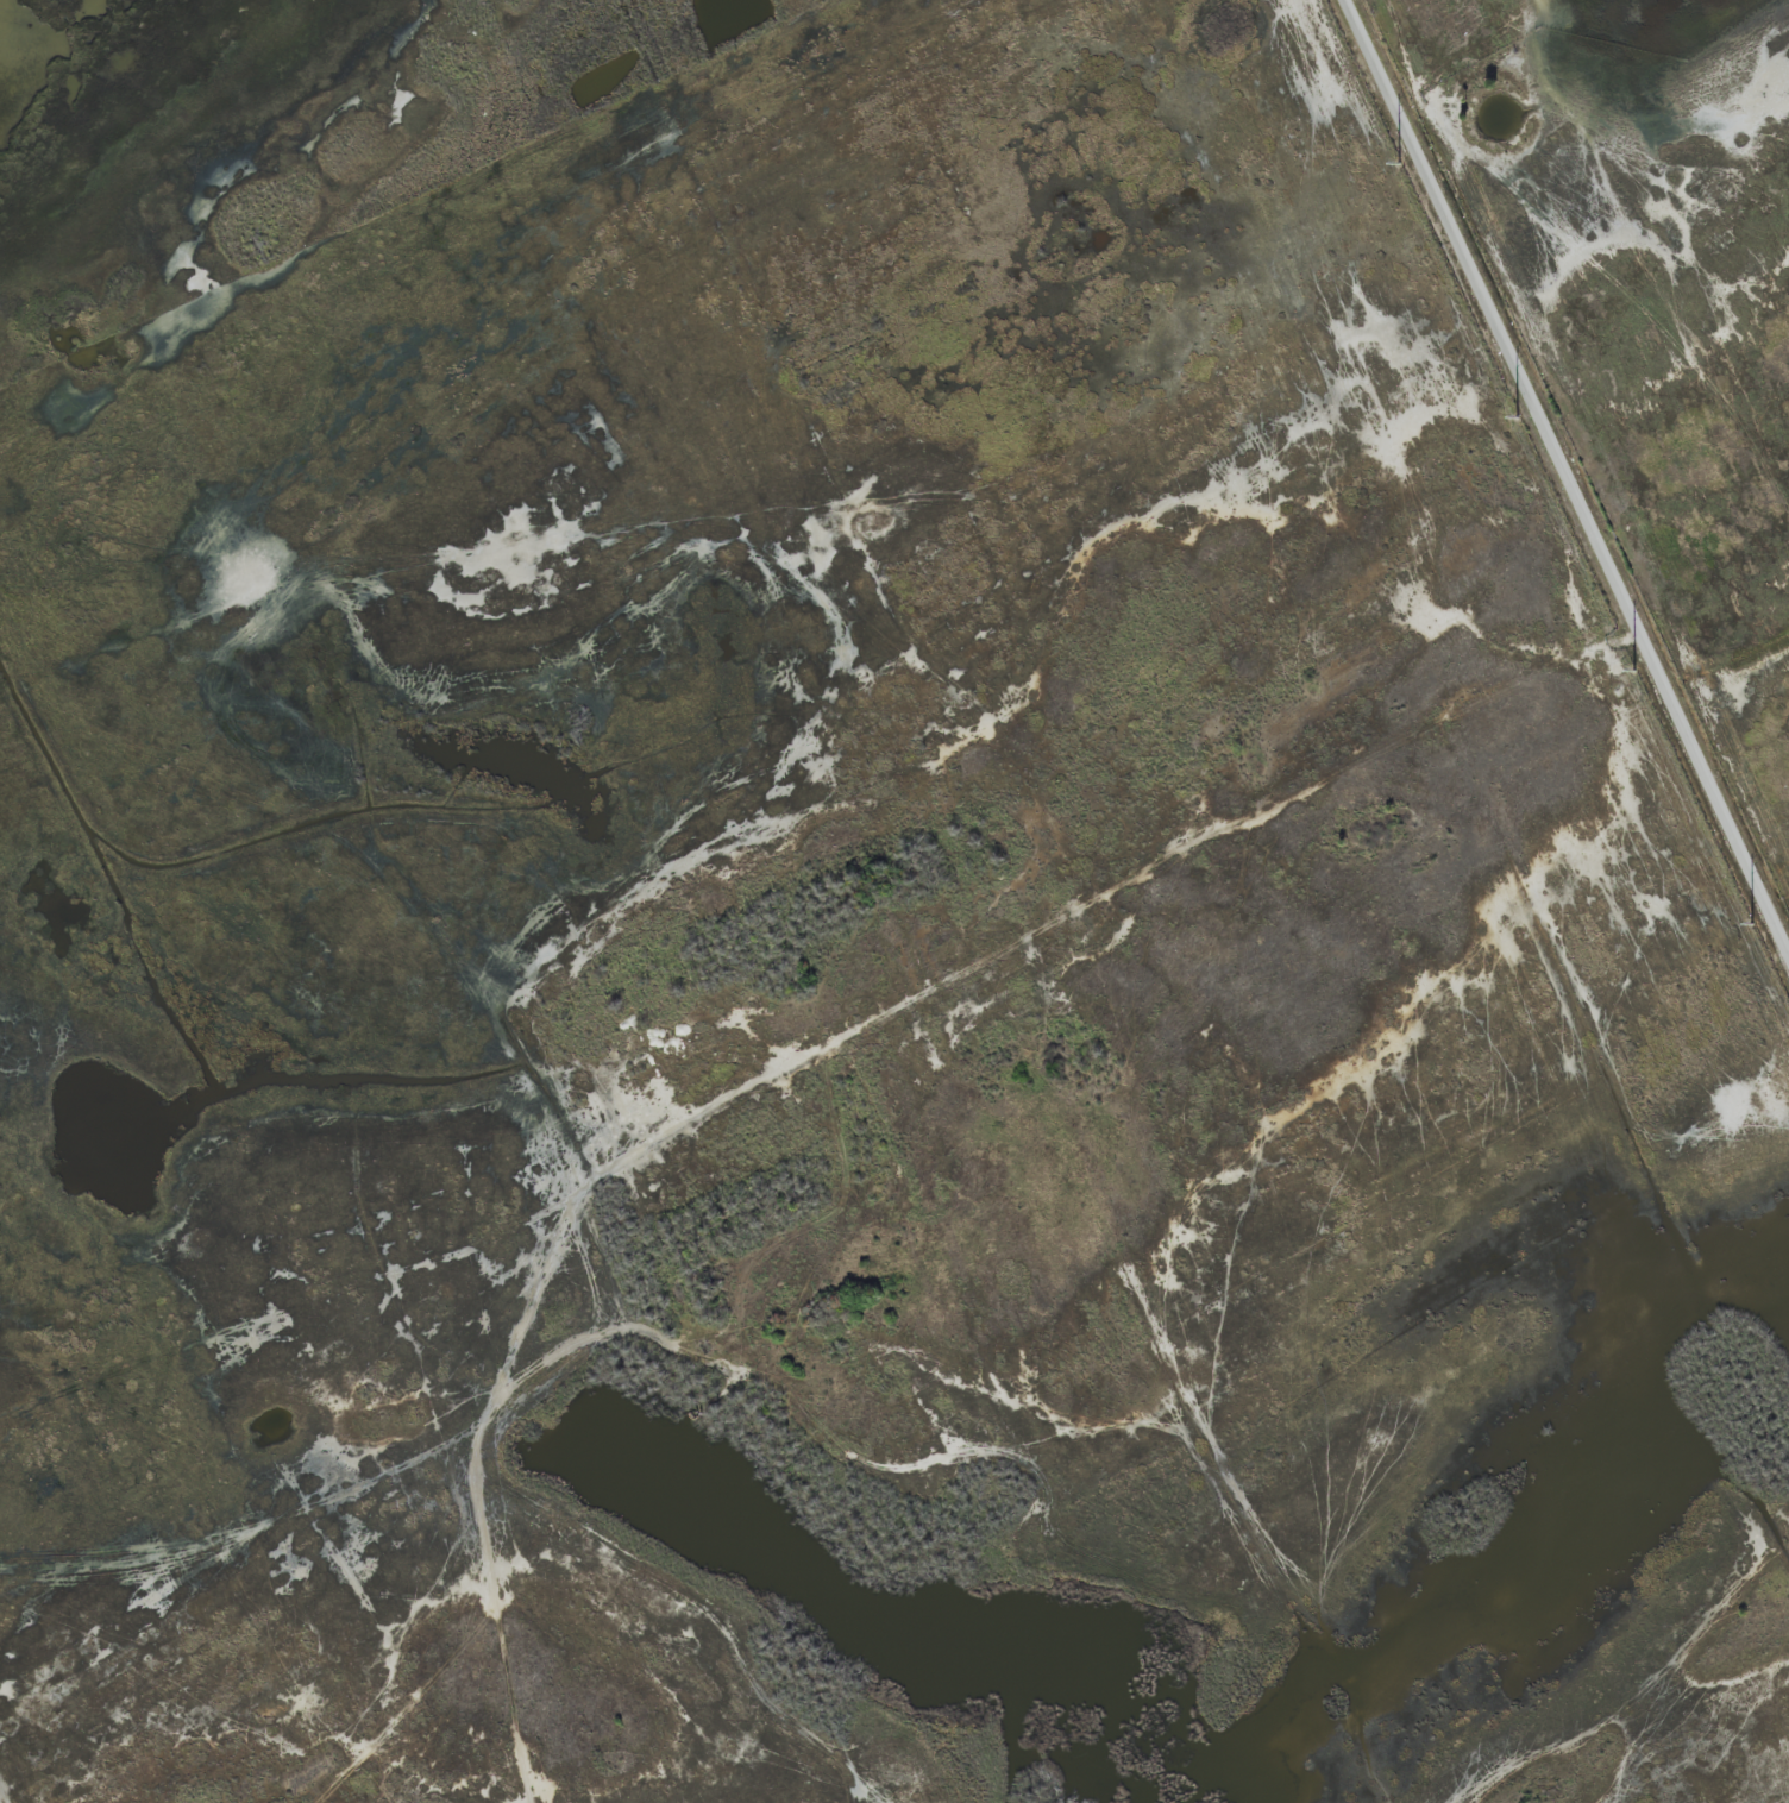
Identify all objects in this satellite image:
road: (1568, 476)

